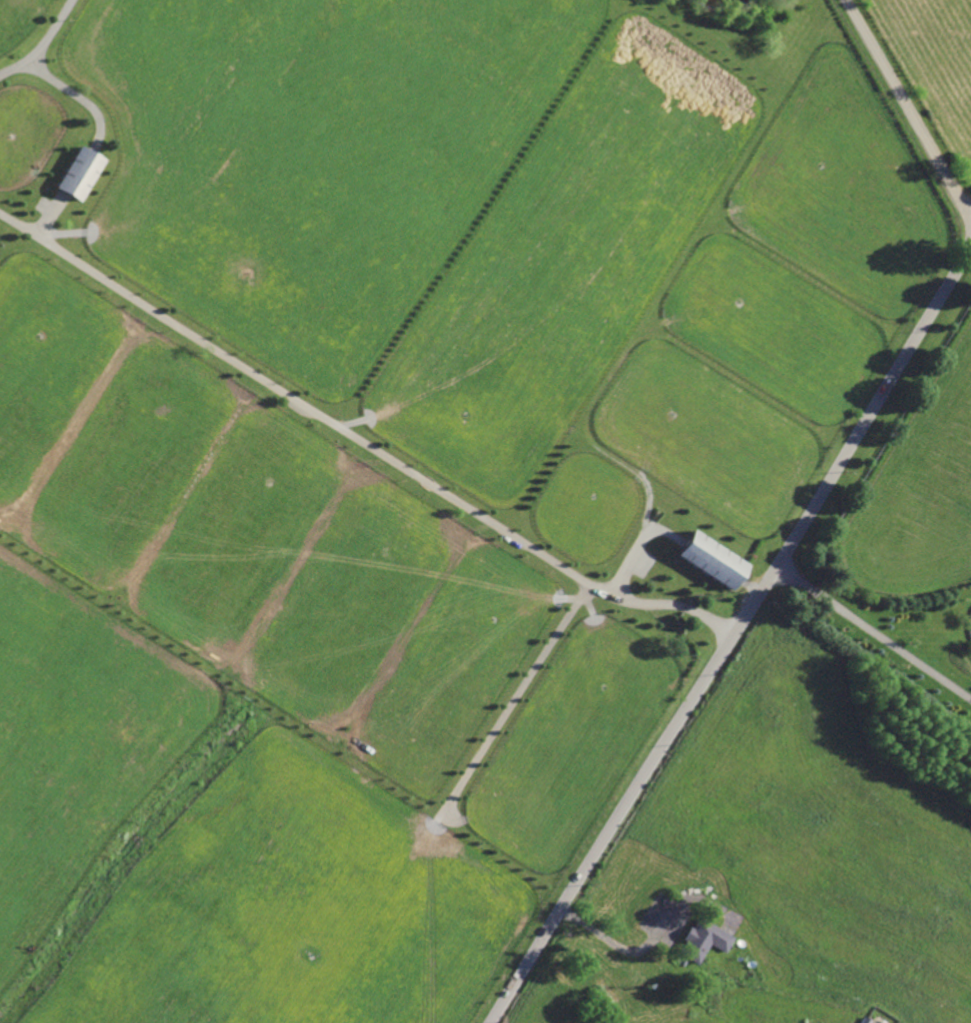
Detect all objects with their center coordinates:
road: (40, 44)
road: (69, 92)
road: (908, 107)
building: (75, 170)
building: (39, 199)
road: (46, 219)
road: (360, 441)
building: (707, 559)
road: (874, 631)
road: (733, 635)
building: (702, 938)
road: (616, 947)
building: (864, 1020)

